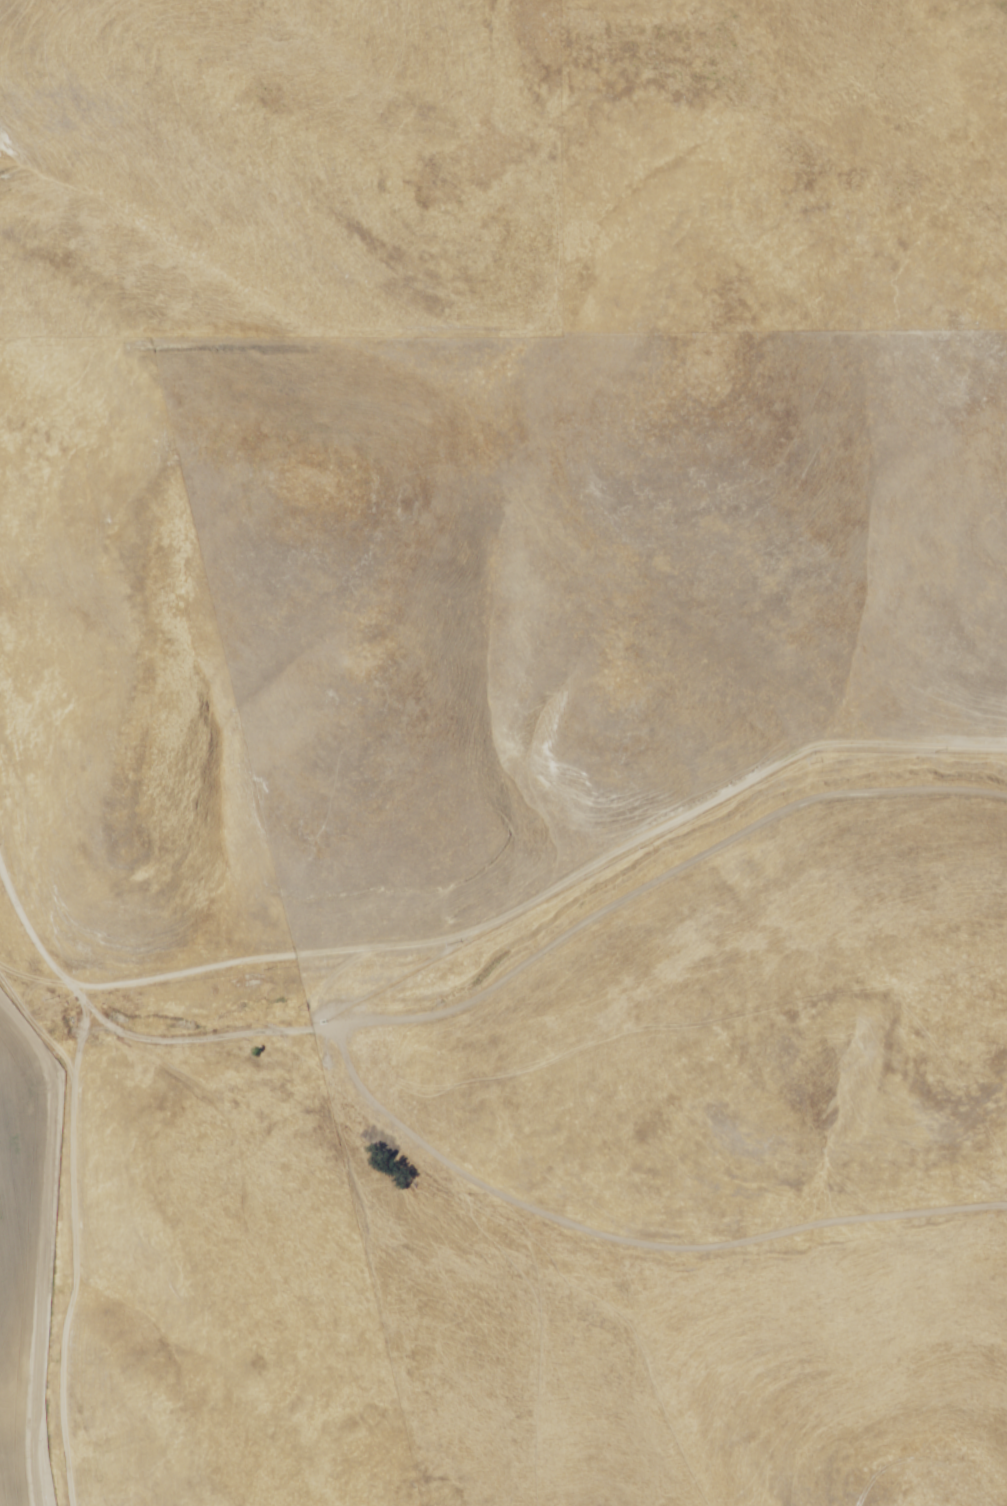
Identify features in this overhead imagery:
road: (562, 920)
road: (114, 1138)

